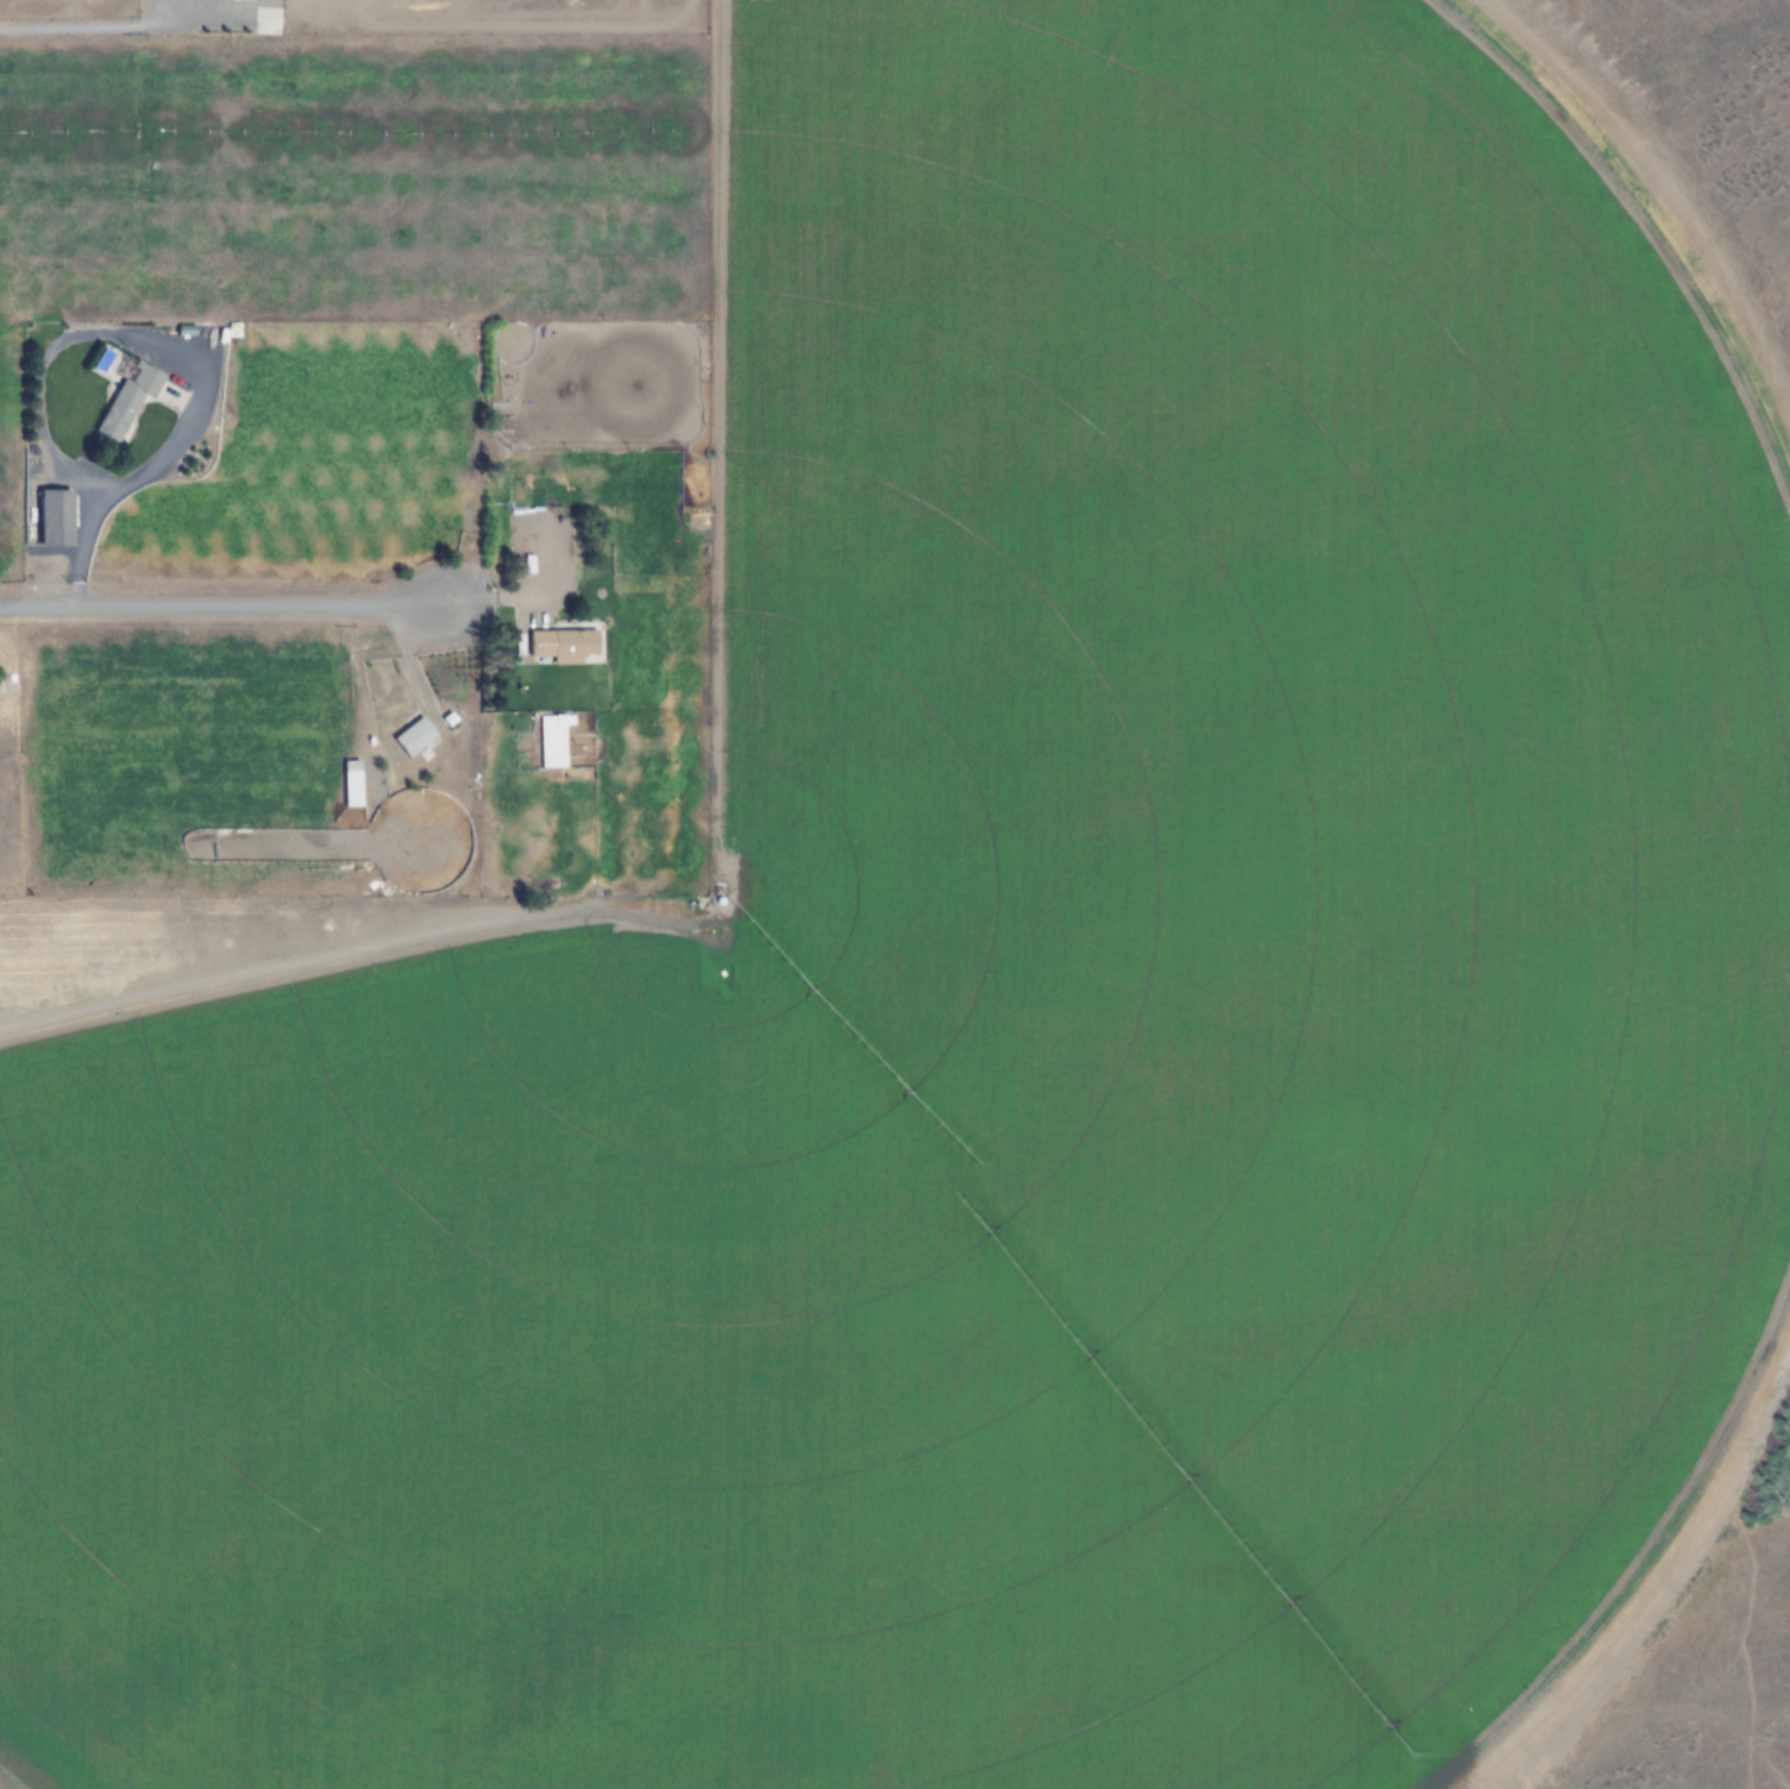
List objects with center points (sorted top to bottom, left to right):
road: (93, 25)
building: (126, 400)
building: (51, 517)
road: (211, 604)
building: (561, 646)
building: (414, 736)
building: (554, 741)
crop: (894, 894)

